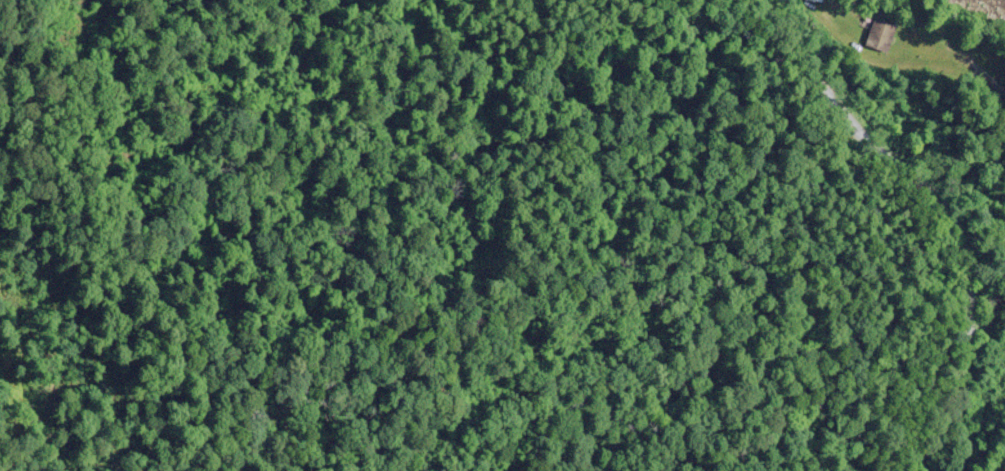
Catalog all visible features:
road: (876, 215)

